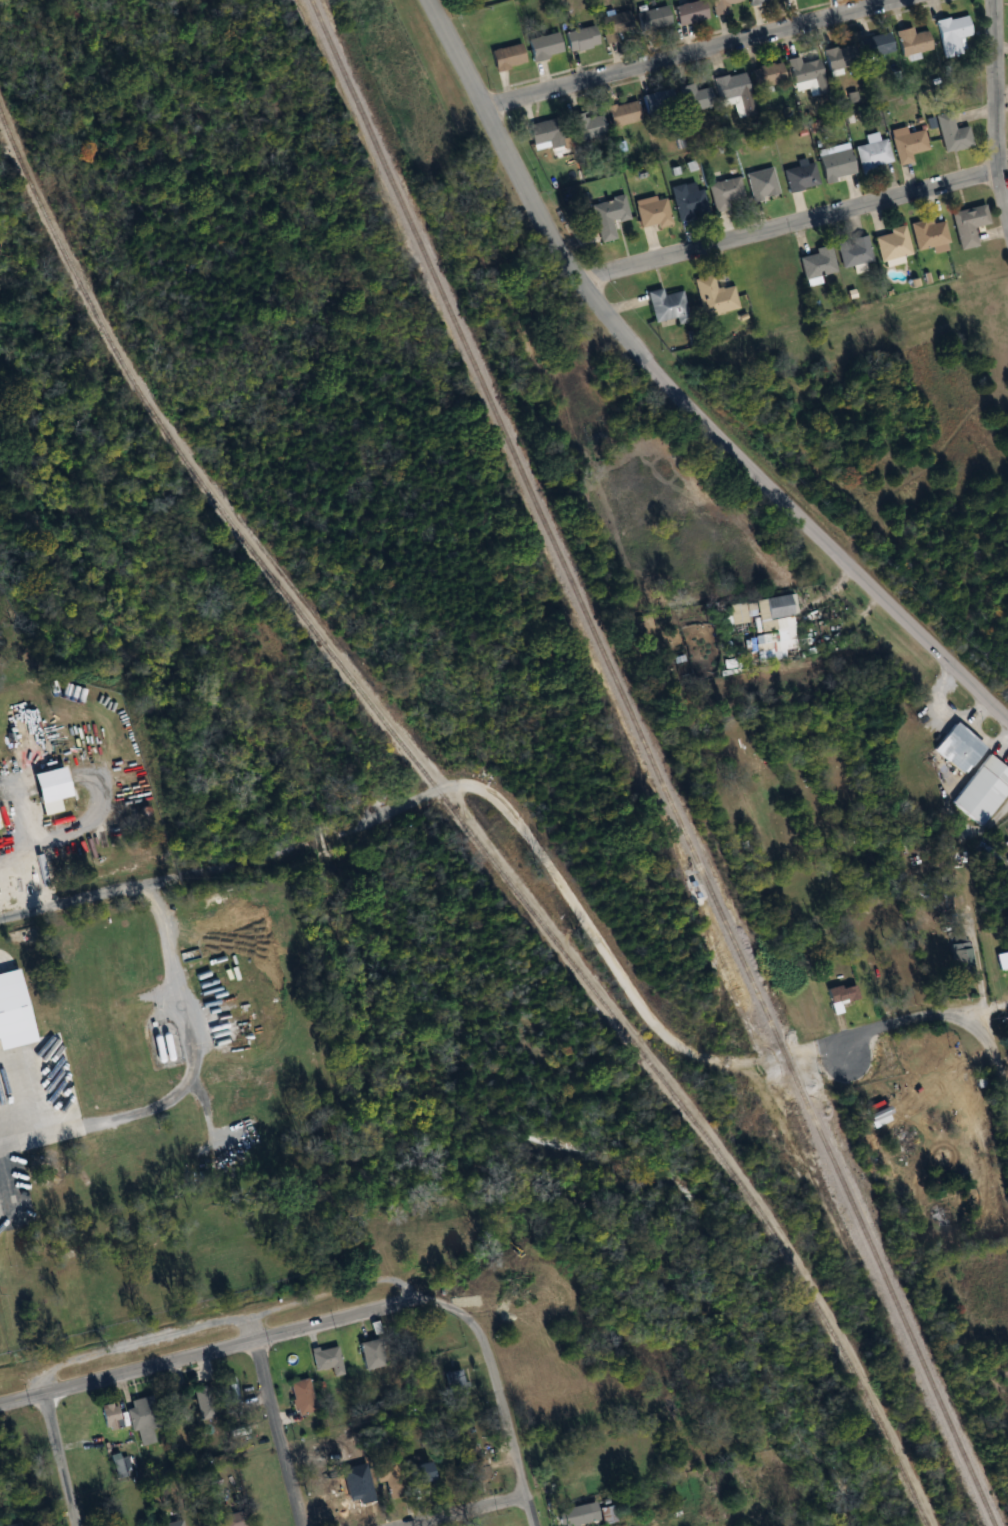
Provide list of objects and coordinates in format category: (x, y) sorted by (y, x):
building: (754, 1)
building: (721, 4)
building: (687, 12)
building: (651, 19)
building: (614, 25)
building: (950, 34)
building: (579, 38)
building: (910, 41)
building: (873, 45)
building: (542, 46)
road: (689, 53)
building: (505, 57)
building: (837, 57)
building: (804, 73)
building: (765, 74)
building: (730, 85)
building: (694, 97)
building: (658, 102)
road: (996, 102)
building: (621, 113)
building: (585, 126)
building: (950, 133)
building: (543, 134)
building: (906, 144)
building: (870, 155)
building: (834, 164)
building: (798, 177)
building: (760, 184)
building: (723, 193)
building: (687, 203)
building: (651, 213)
building: (607, 216)
road: (790, 225)
building: (965, 225)
building: (926, 233)
building: (890, 244)
building: (853, 252)
building: (816, 263)
building: (712, 296)
building: (665, 306)
road: (675, 390)
building: (764, 621)
building: (47, 738)
building: (956, 748)
railway: (651, 763)
building: (43, 784)
building: (982, 791)
railway: (455, 813)
building: (1006, 860)
road: (550, 868)
road: (976, 959)
building: (840, 994)
road: (979, 1008)
road: (187, 1035)
building: (160, 1048)
road: (76, 1129)
road: (224, 1322)
road: (228, 1348)
building: (369, 1353)
building: (325, 1360)
building: (453, 1381)
building: (227, 1390)
road: (497, 1390)
building: (300, 1396)
road: (22, 1397)
building: (204, 1407)
building: (176, 1408)
building: (108, 1416)
building: (139, 1421)
road: (274, 1421)
road: (60, 1458)
building: (119, 1464)
building: (381, 1472)
building: (419, 1472)
building: (476, 1473)
road: (464, 1511)
building: (575, 1514)
building: (605, 1514)
building: (232, 1519)

